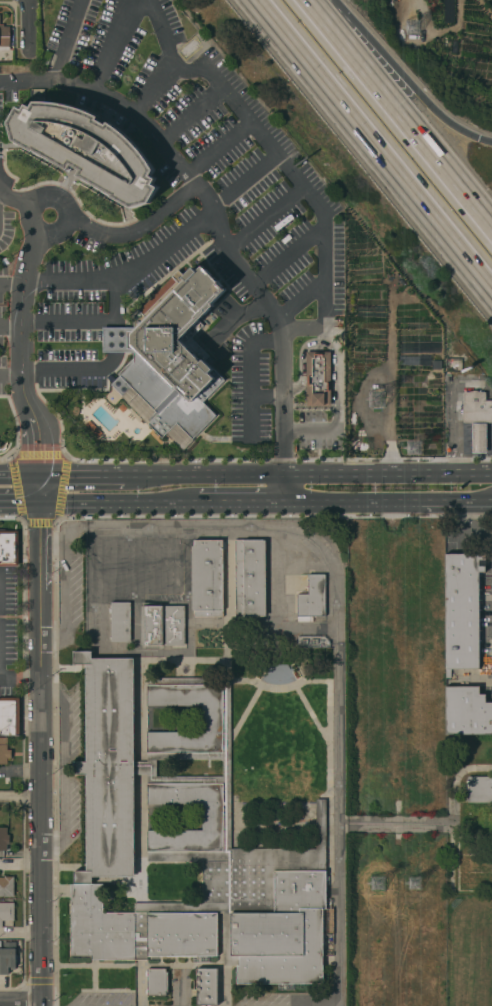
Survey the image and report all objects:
road: (421, 9)
road: (323, 22)
road: (33, 25)
power tower: (417, 29)
building: (5, 38)
road: (61, 41)
road: (112, 45)
road: (172, 60)
road: (378, 68)
road: (116, 100)
road: (449, 123)
road: (416, 136)
traffic signals: (477, 138)
road: (373, 145)
building: (86, 149)
road: (302, 190)
road: (15, 201)
road: (66, 209)
road: (30, 221)
road: (135, 231)
parking lot: (4, 266)
road: (127, 270)
road: (11, 284)
road: (236, 314)
road: (275, 320)
road: (90, 321)
road: (113, 325)
road: (10, 326)
building: (169, 353)
road: (21, 354)
road: (71, 369)
road: (248, 371)
road: (10, 377)
building: (317, 379)
road: (3, 397)
road: (337, 404)
power tower: (383, 407)
building: (476, 408)
road: (455, 427)
road: (17, 433)
building: (478, 438)
power tower: (420, 449)
road: (387, 475)
road: (19, 476)
traffic signals: (39, 476)
road: (81, 476)
road: (203, 476)
road: (283, 488)
road: (39, 489)
road: (387, 500)
road: (119, 501)
road: (241, 501)
road: (19, 502)
traffic signals: (39, 502)
road: (462, 528)
building: (8, 548)
road: (338, 574)
building: (206, 578)
building: (250, 578)
building: (312, 599)
building: (462, 610)
building: (120, 622)
building: (151, 625)
building: (174, 626)
road: (20, 678)
building: (467, 711)
building: (9, 717)
road: (41, 749)
building: (4, 751)
building: (479, 789)
road: (21, 798)
building: (3, 838)
building: (187, 842)
power tower: (420, 884)
building: (6, 886)
power tower: (382, 886)
building: (6, 912)
road: (22, 932)
park: (469, 949)
building: (7, 957)
building: (156, 982)
building: (206, 987)
road: (22, 998)
road: (44, 1002)

